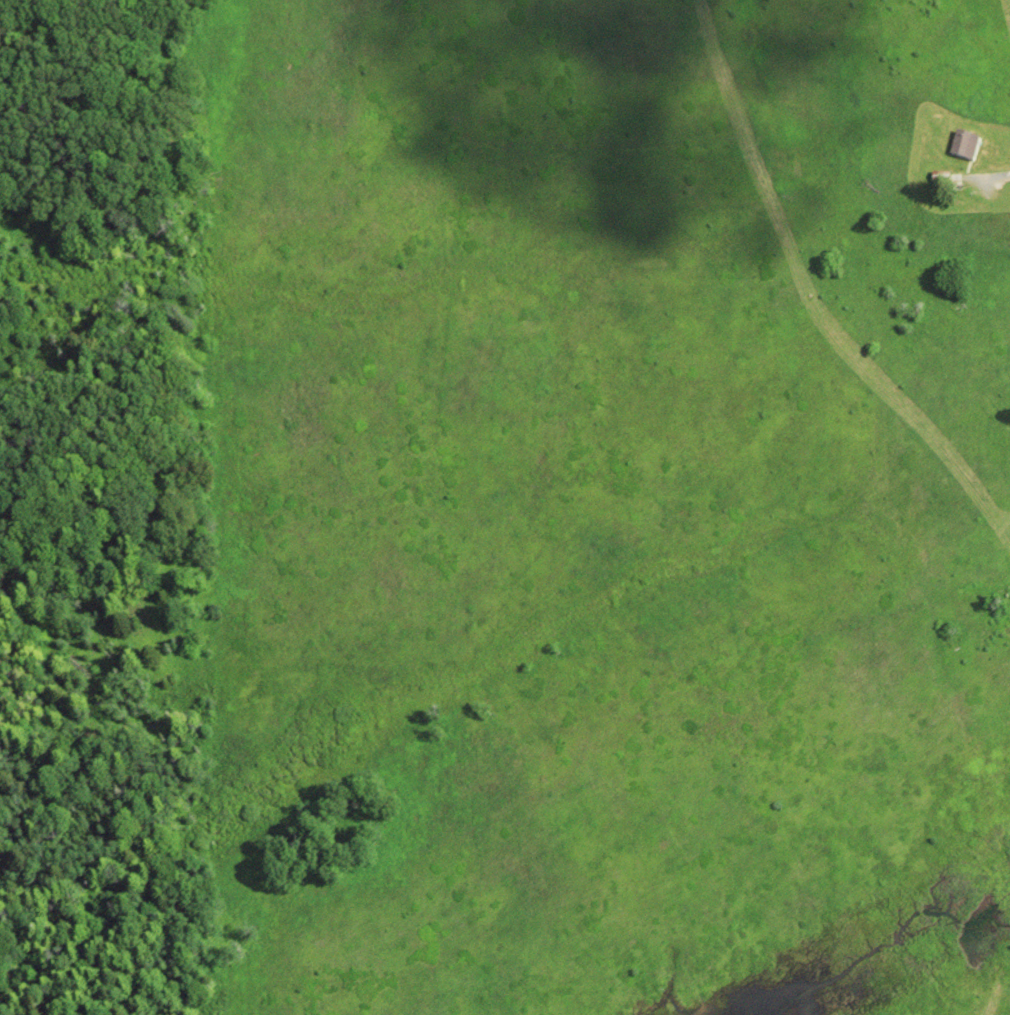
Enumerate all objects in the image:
building: (962, 144)
road: (979, 174)

